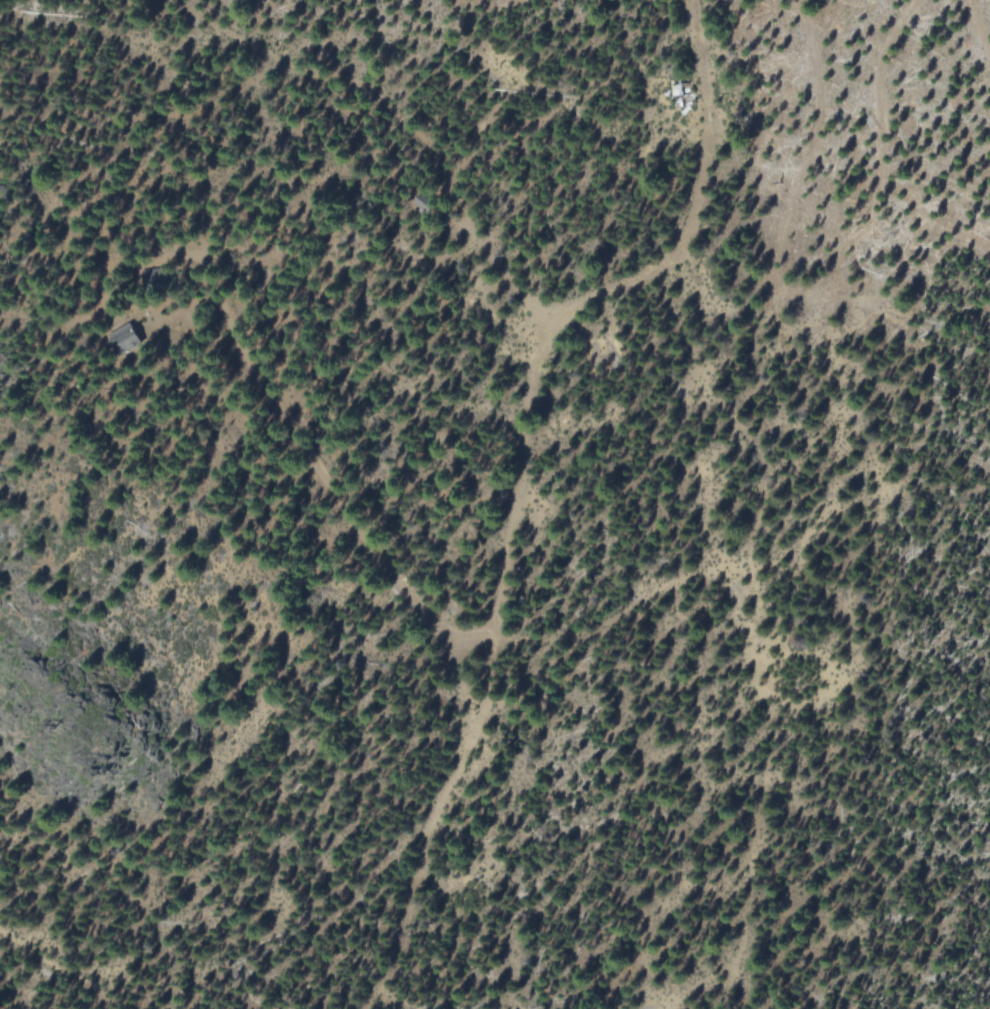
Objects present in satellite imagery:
road: (698, 50)
road: (22, 989)

